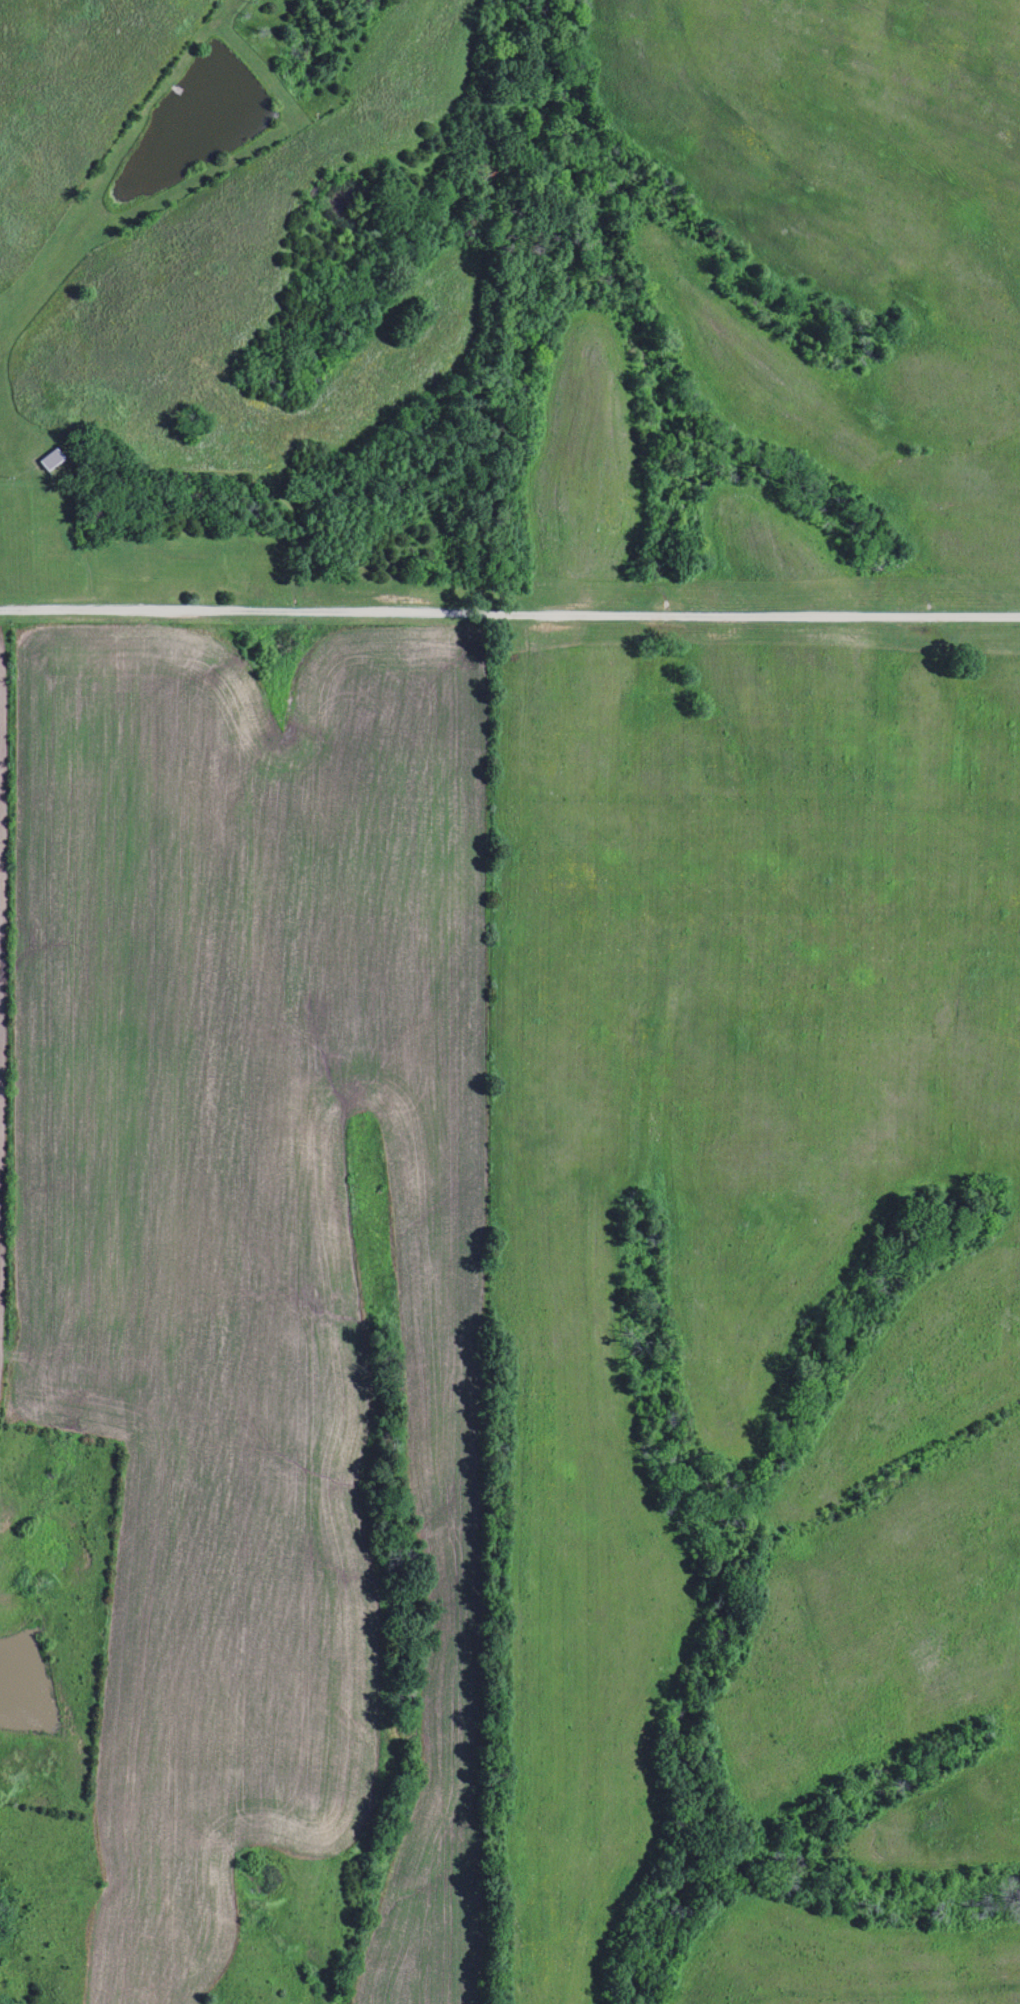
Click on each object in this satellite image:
road: (510, 614)

